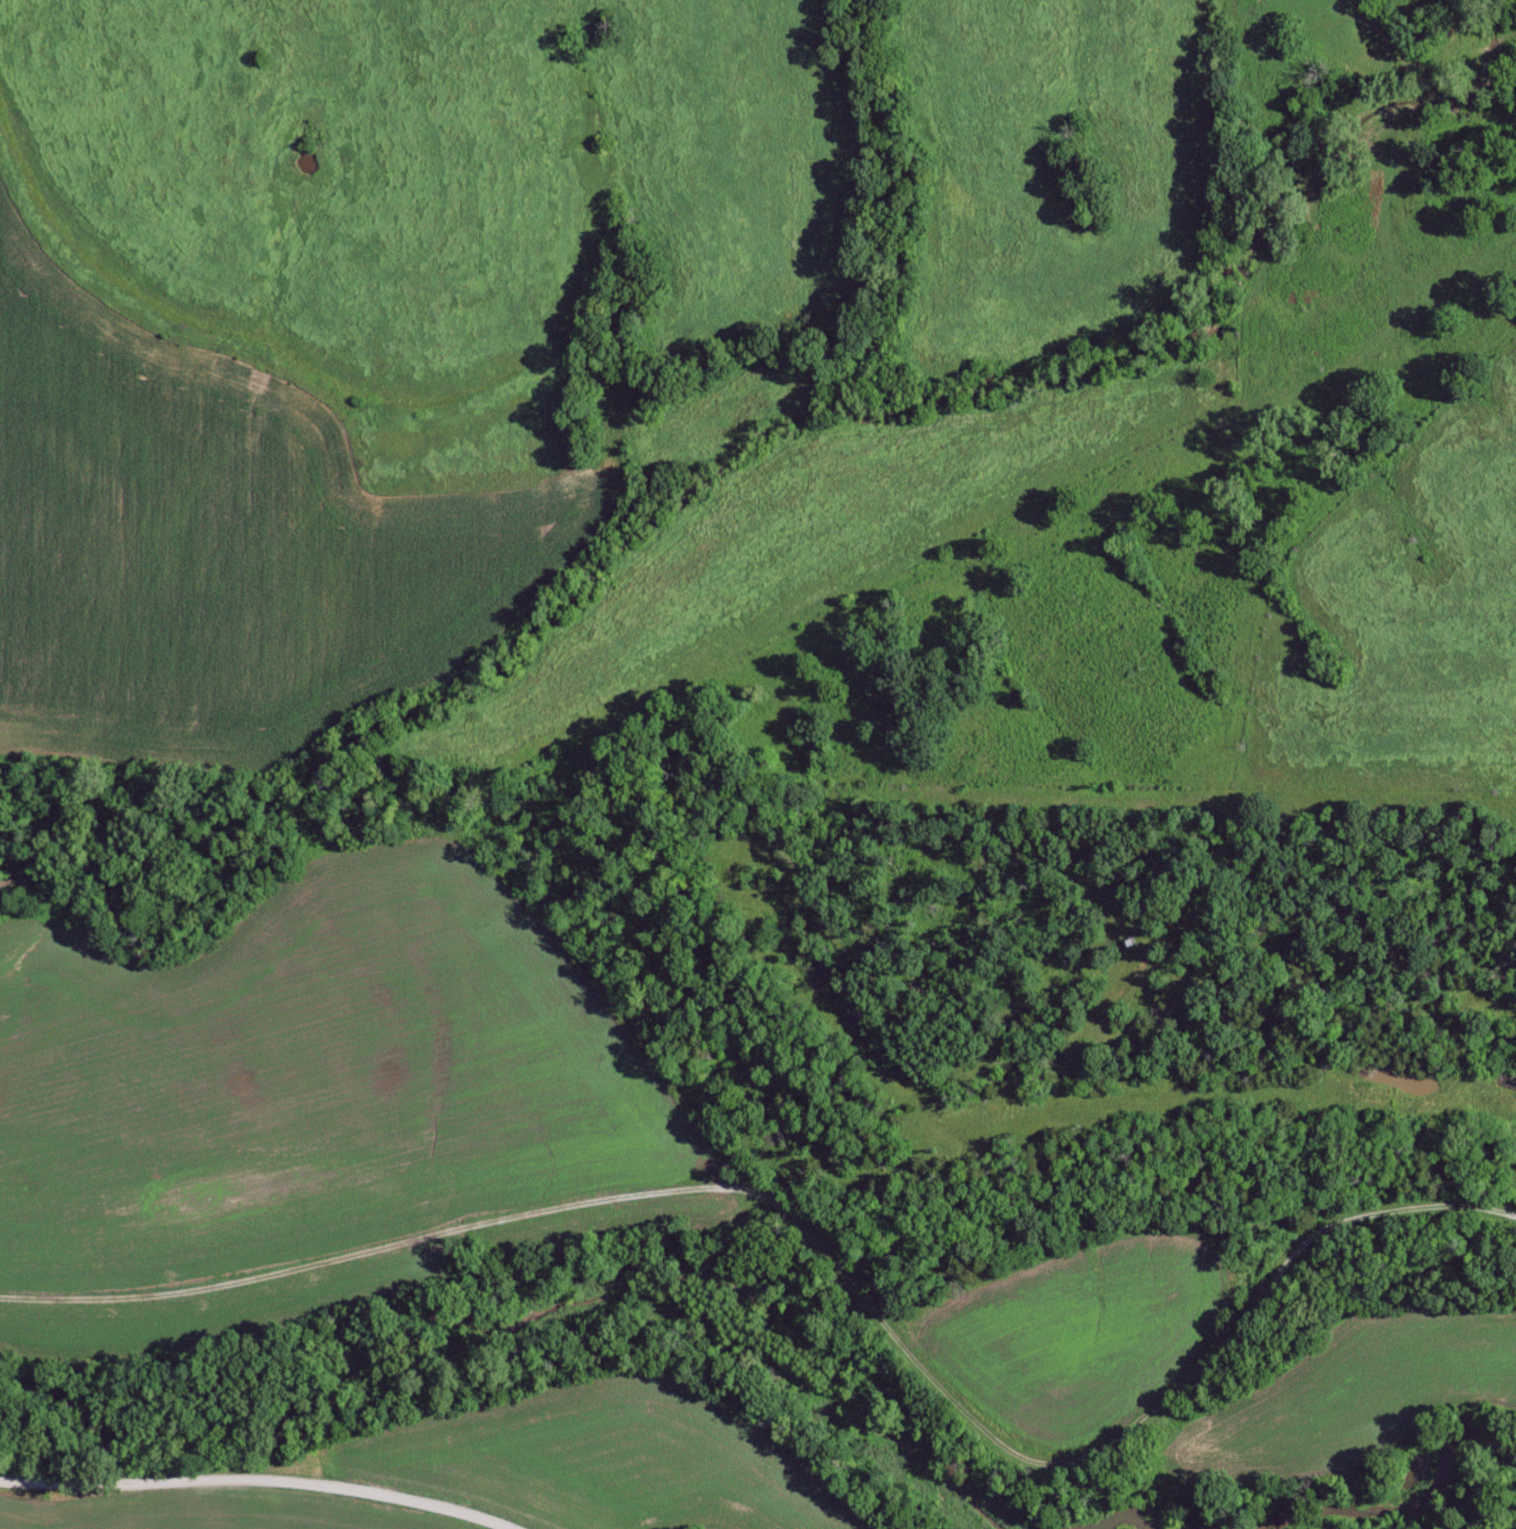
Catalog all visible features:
road: (832, 1261)
road: (255, 1479)
river: (1328, 1518)

